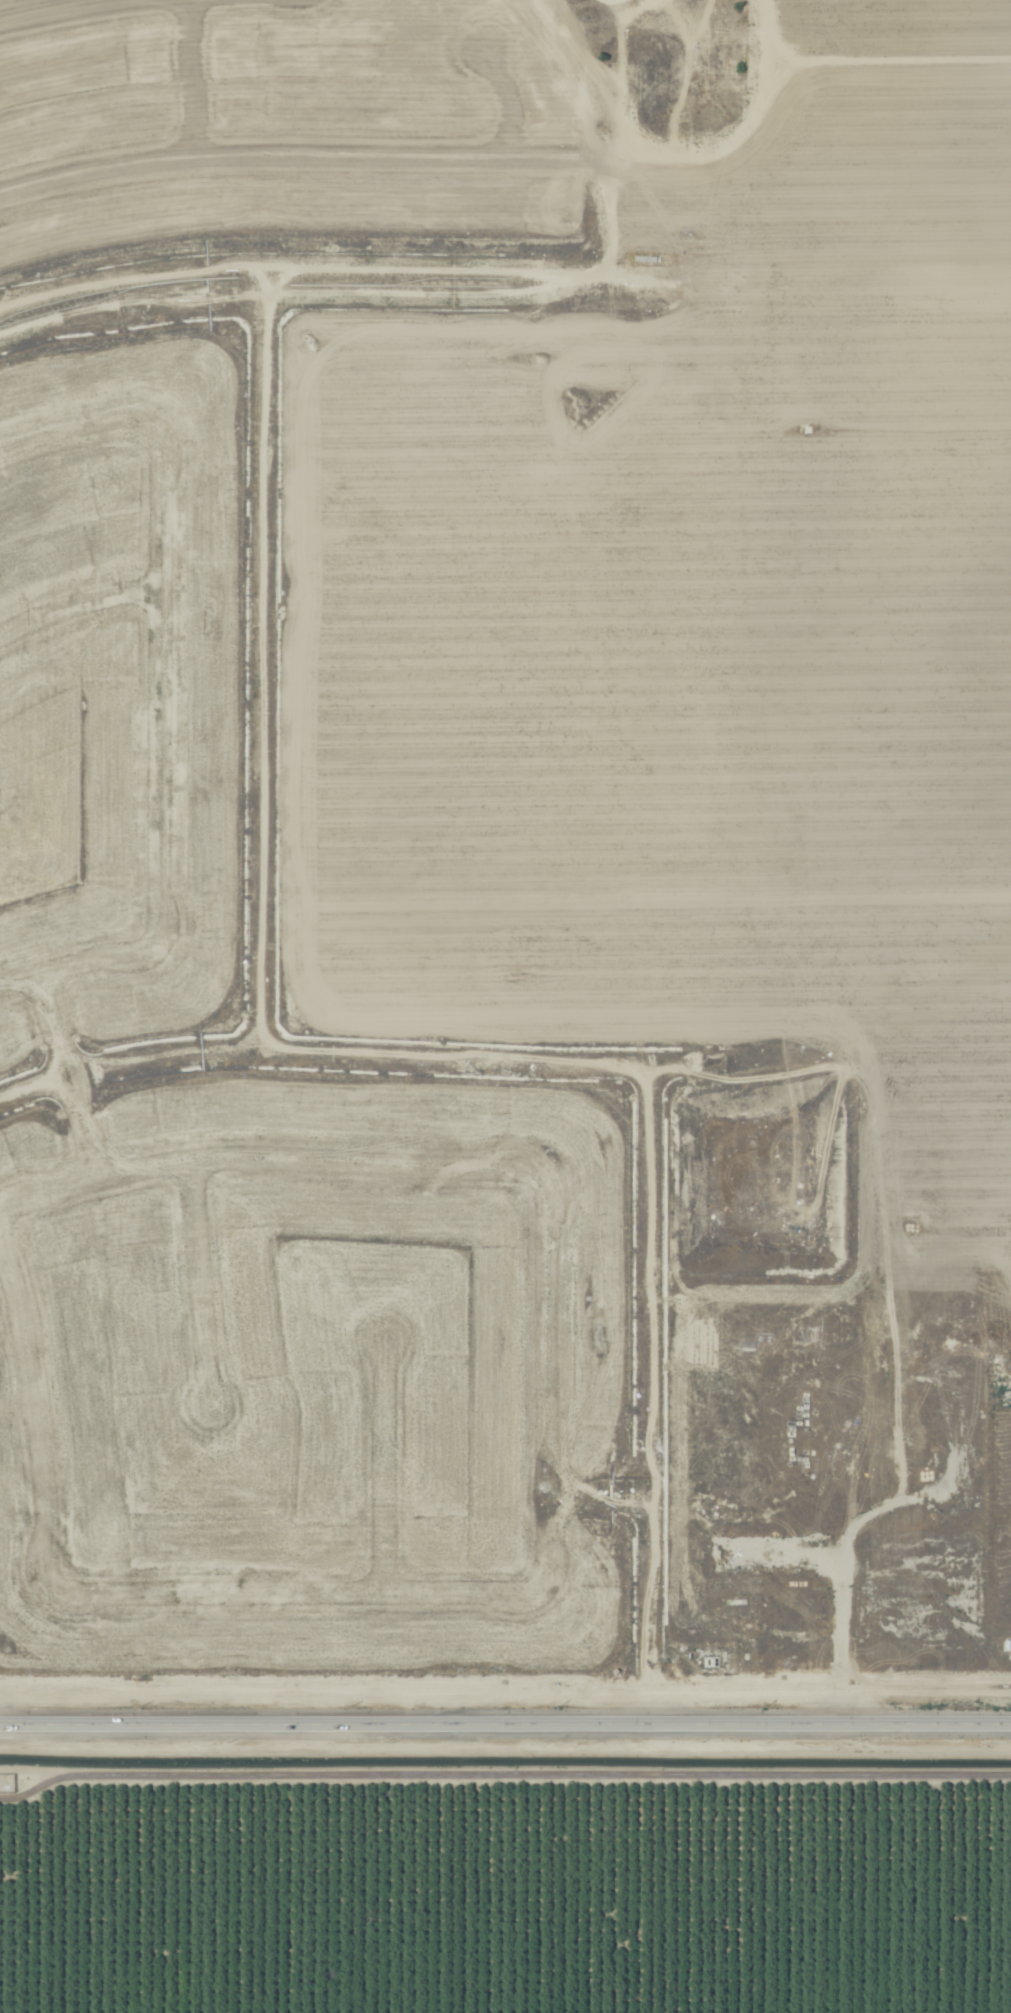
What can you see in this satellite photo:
road: (505, 1724)

